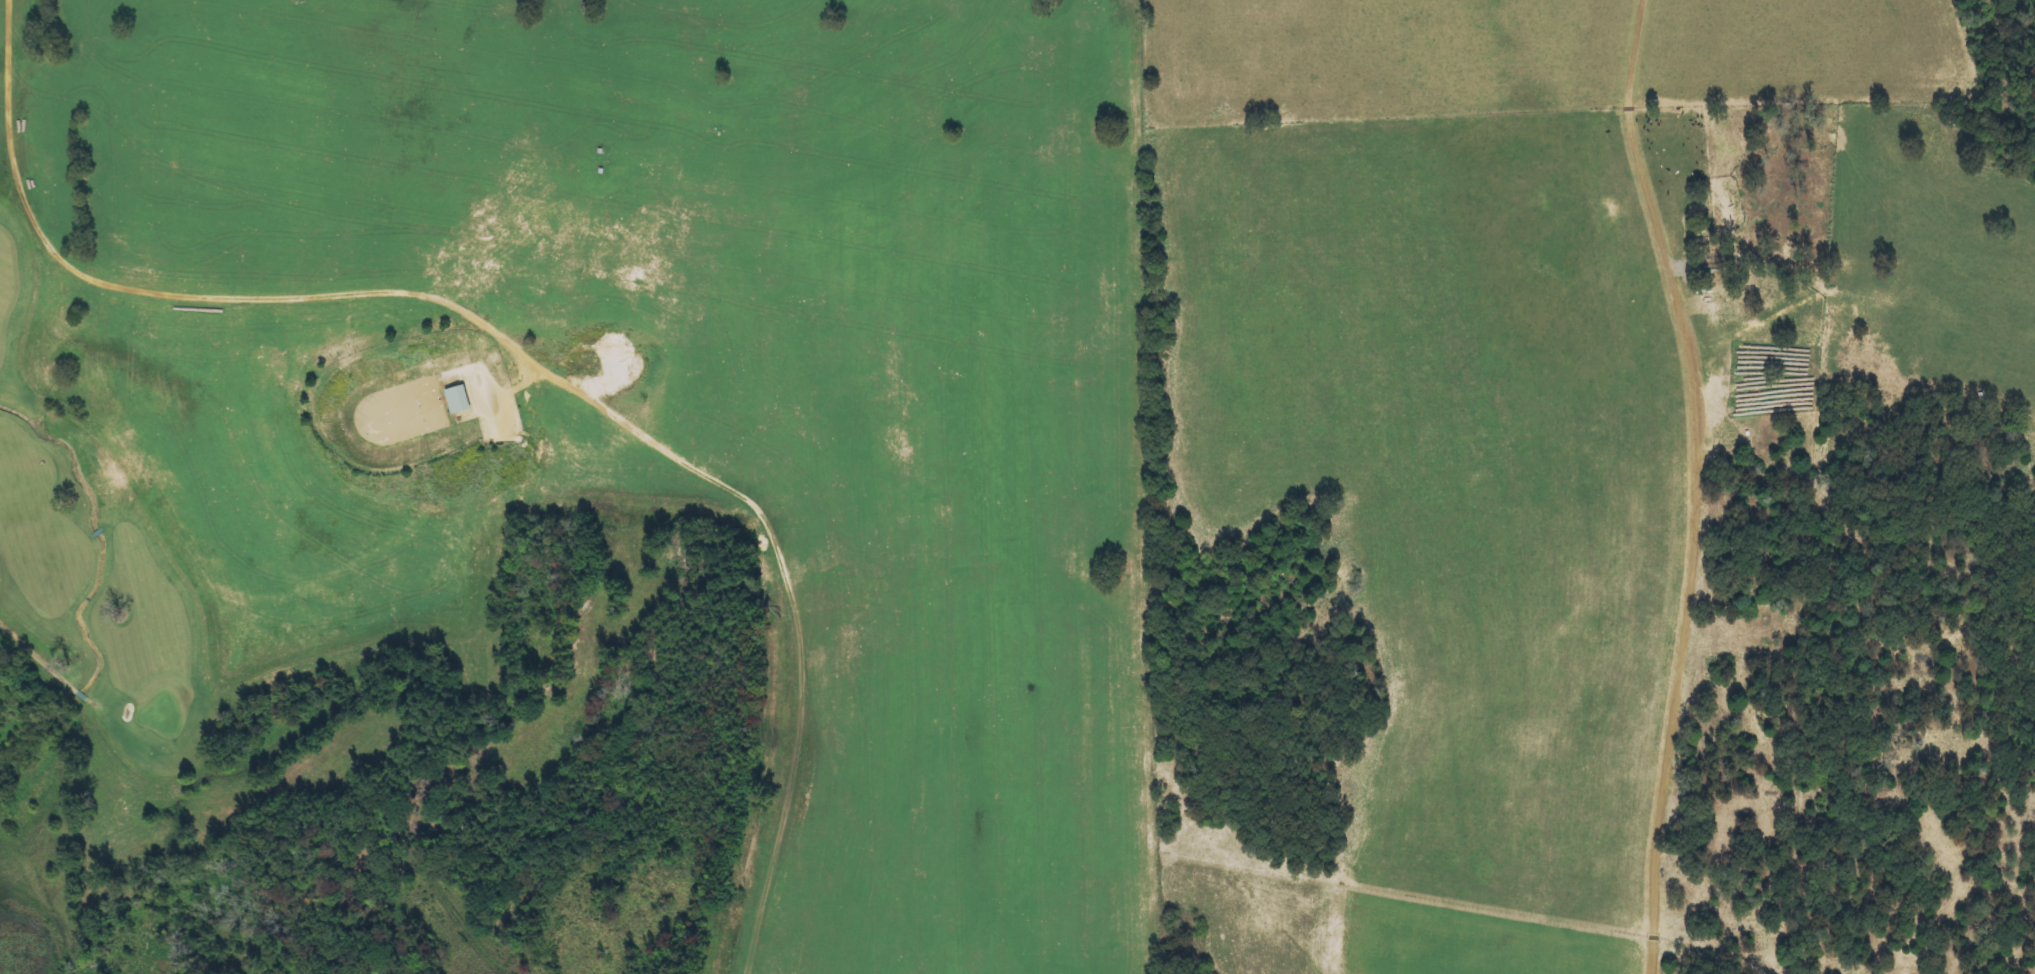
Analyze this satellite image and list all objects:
building: (458, 399)

